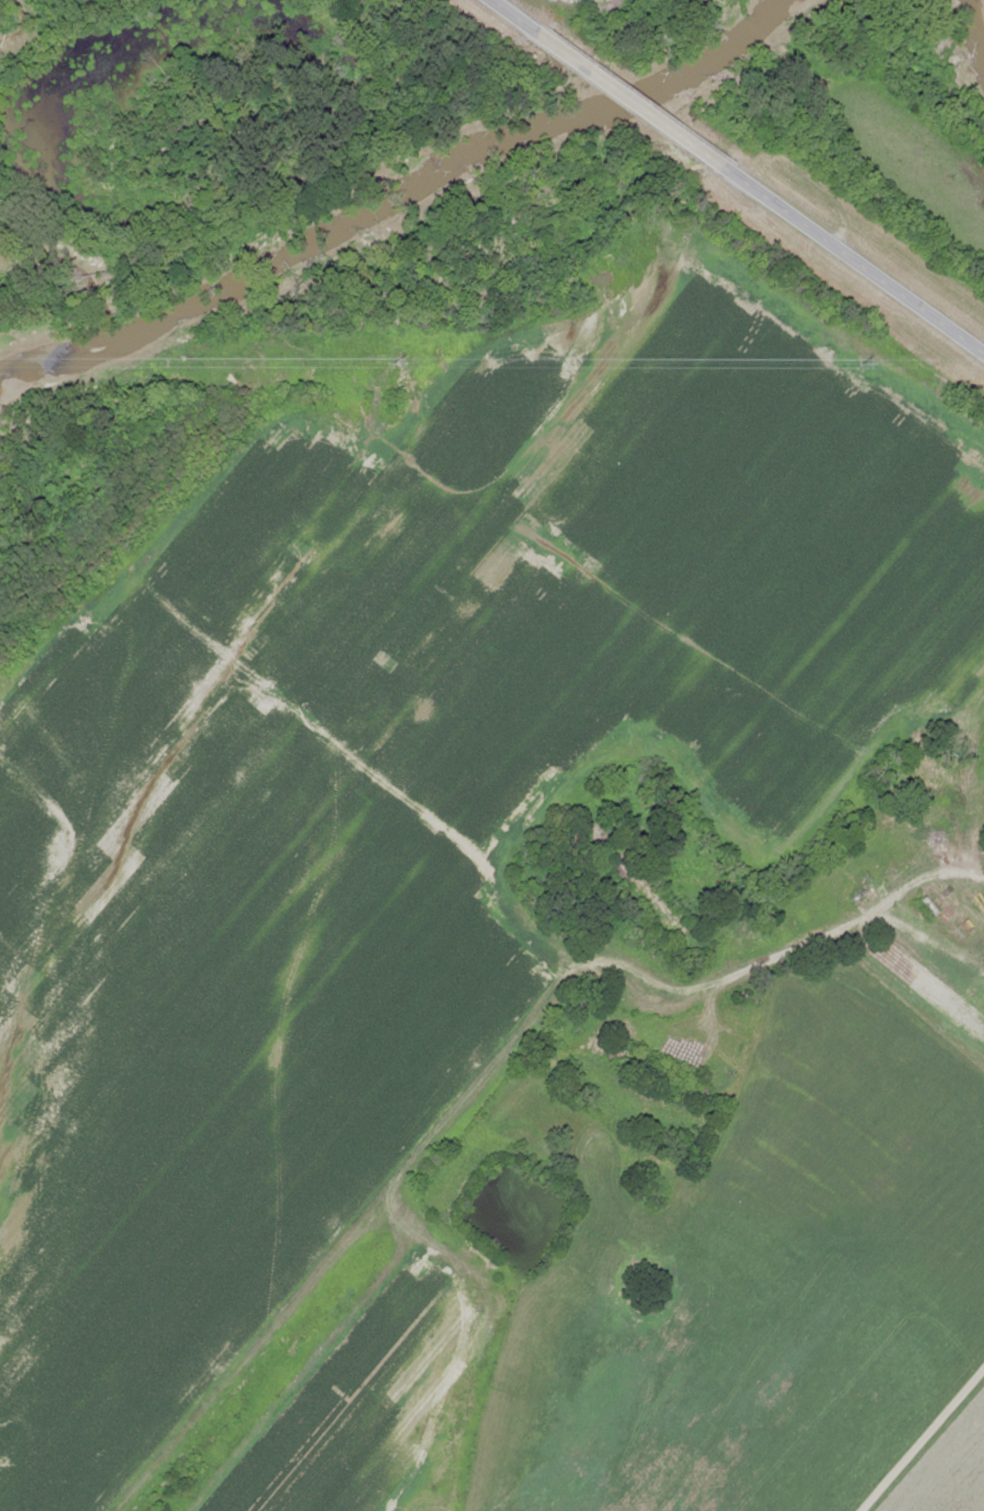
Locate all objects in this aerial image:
road: (511, 15)
river: (964, 28)
road: (626, 97)
river: (406, 196)
road: (852, 259)

